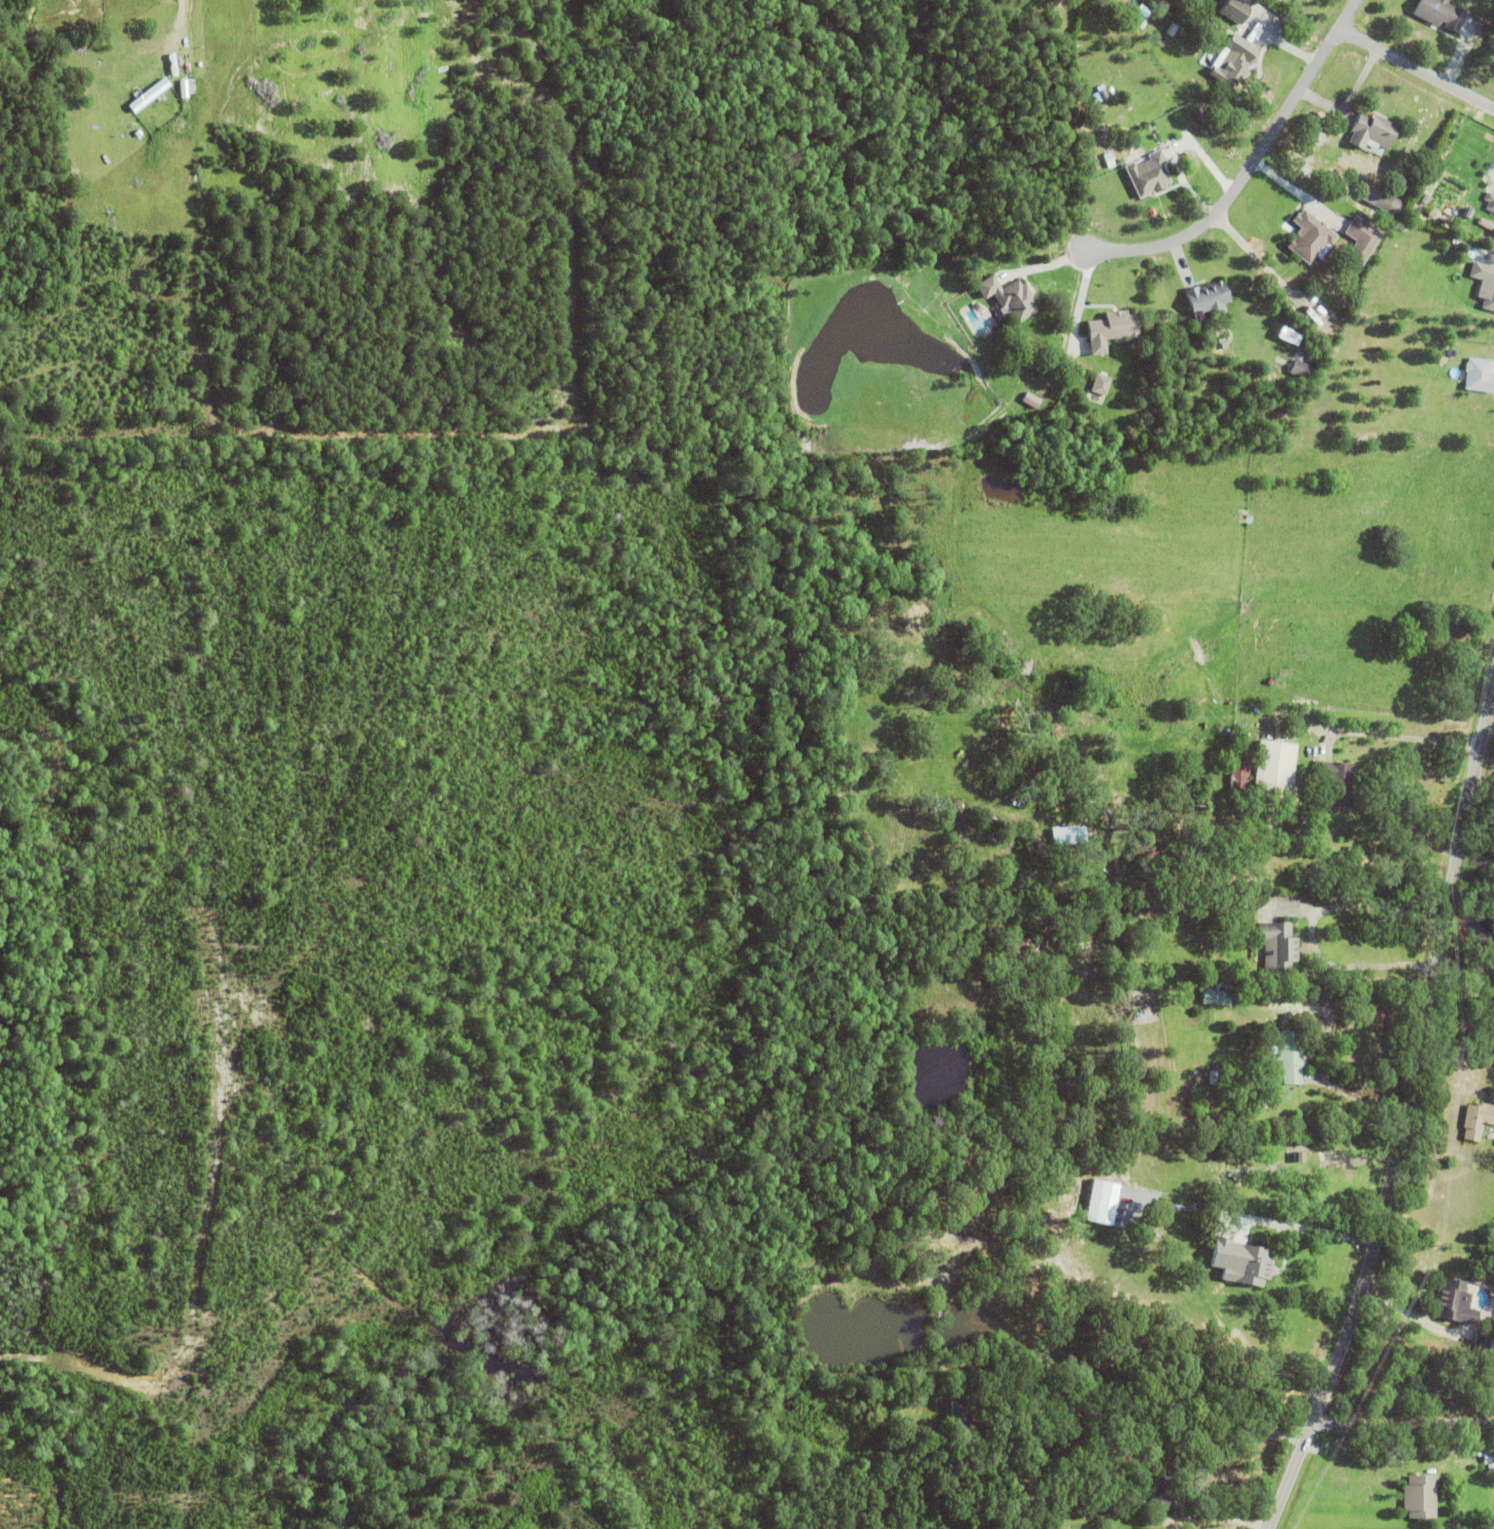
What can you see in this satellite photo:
building: (1189, 2)
building: (1235, 11)
road: (1350, 12)
building: (1142, 14)
building: (1440, 14)
road: (181, 15)
building: (1235, 63)
road: (1419, 64)
building: (184, 89)
building: (150, 95)
building: (1103, 95)
building: (1372, 131)
building: (1149, 175)
road: (1241, 183)
building: (1384, 202)
building: (1490, 203)
building: (1389, 220)
building: (1310, 237)
building: (1364, 238)
building: (1484, 284)
building: (1010, 298)
building: (1209, 299)
building: (1111, 331)
building: (1292, 336)
building: (1313, 362)
building: (1301, 371)
building: (1479, 376)
building: (1101, 385)
road: (1493, 680)
building: (1245, 760)
building: (1276, 775)
building: (1239, 781)
building: (1337, 782)
building: (1070, 834)
building: (1146, 853)
building: (1280, 951)
building: (1021, 954)
road: (1371, 964)
building: (1222, 975)
building: (1217, 1000)
building: (1291, 1058)
building: (1228, 1081)
road: (1356, 1094)
road: (1404, 1106)
building: (1477, 1123)
building: (1291, 1146)
building: (1300, 1160)
building: (1350, 1180)
building: (1105, 1201)
building: (1249, 1267)
building: (1481, 1277)
building: (1456, 1306)
road: (1407, 1315)
building: (1482, 1345)
building: (1294, 1392)
building: (959, 1410)
road: (1403, 1424)
building: (1254, 1429)
building: (1489, 1462)
building: (1163, 1464)
building: (1162, 1491)
building: (1027, 1497)
building: (1421, 1500)

